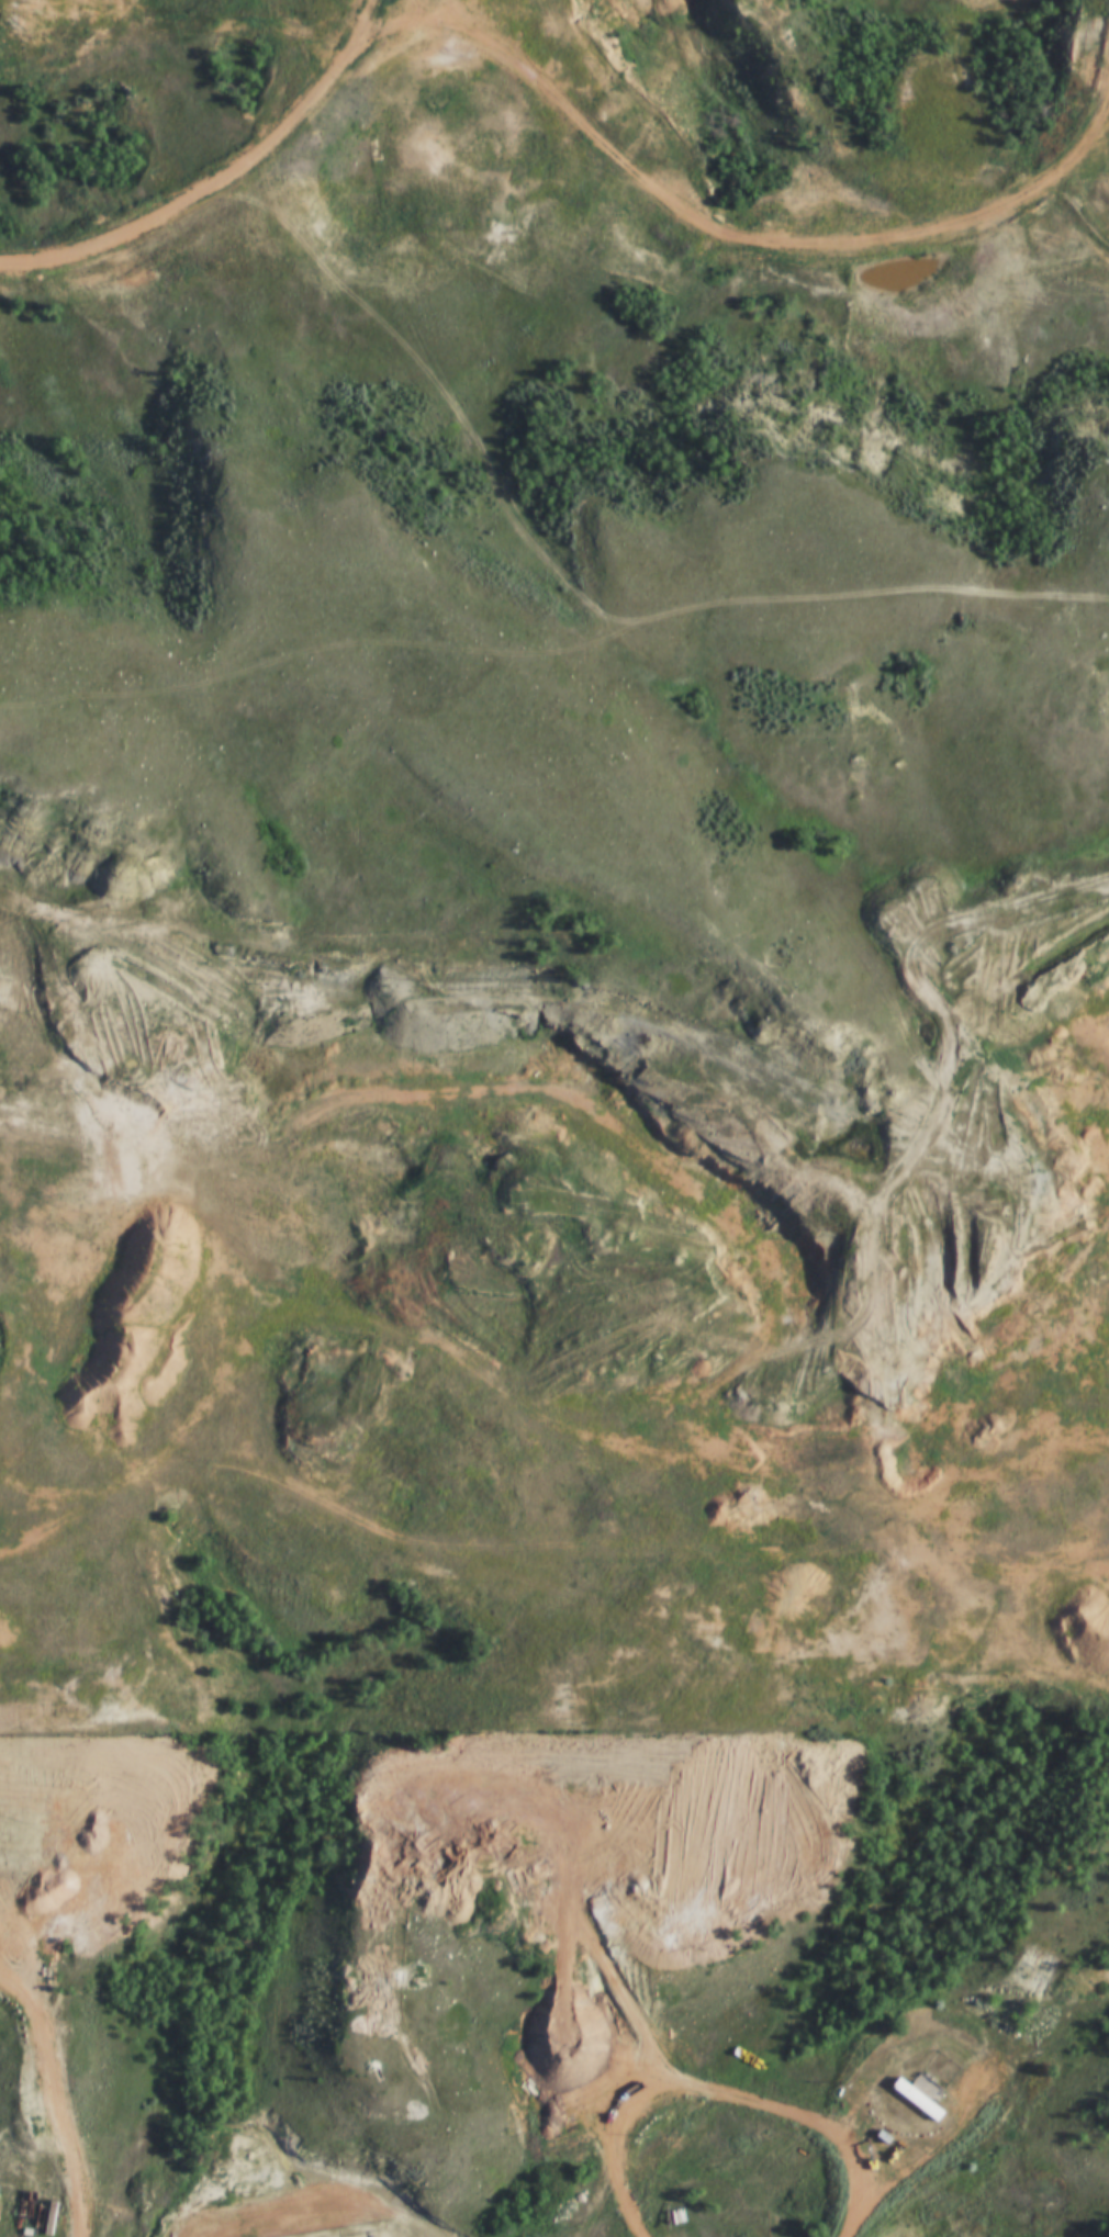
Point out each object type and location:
road: (395, 1103)
quarry: (300, 1280)

